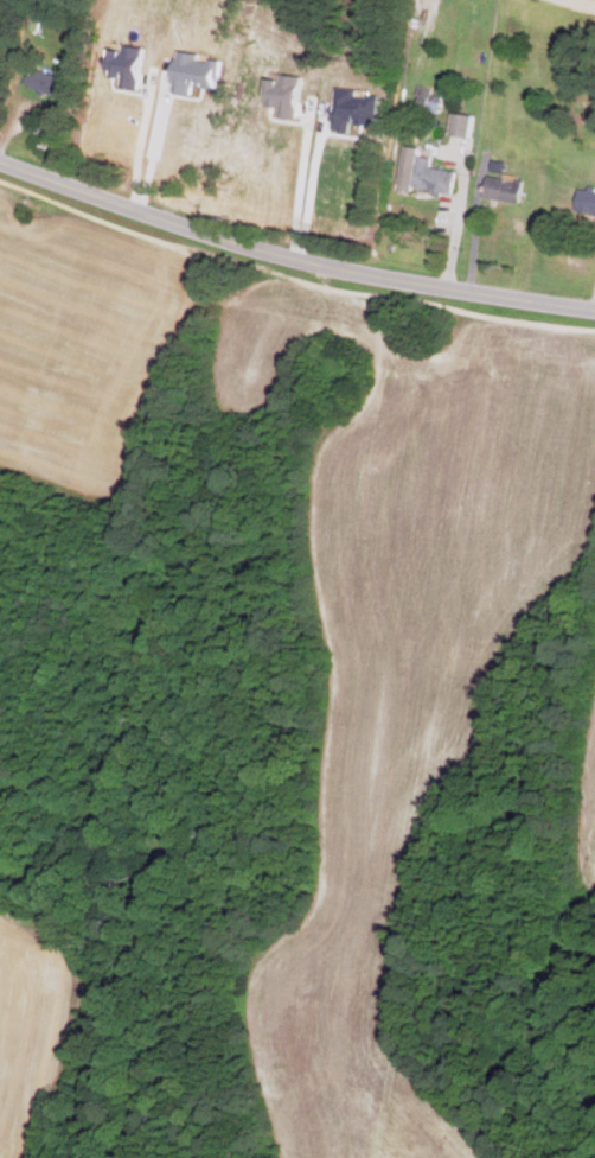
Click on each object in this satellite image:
road: (593, 0)
building: (46, 79)
building: (429, 103)
building: (462, 125)
road: (137, 142)
road: (154, 142)
building: (177, 147)
building: (433, 176)
road: (300, 185)
building: (504, 190)
building: (586, 199)
road: (460, 217)
road: (292, 257)

